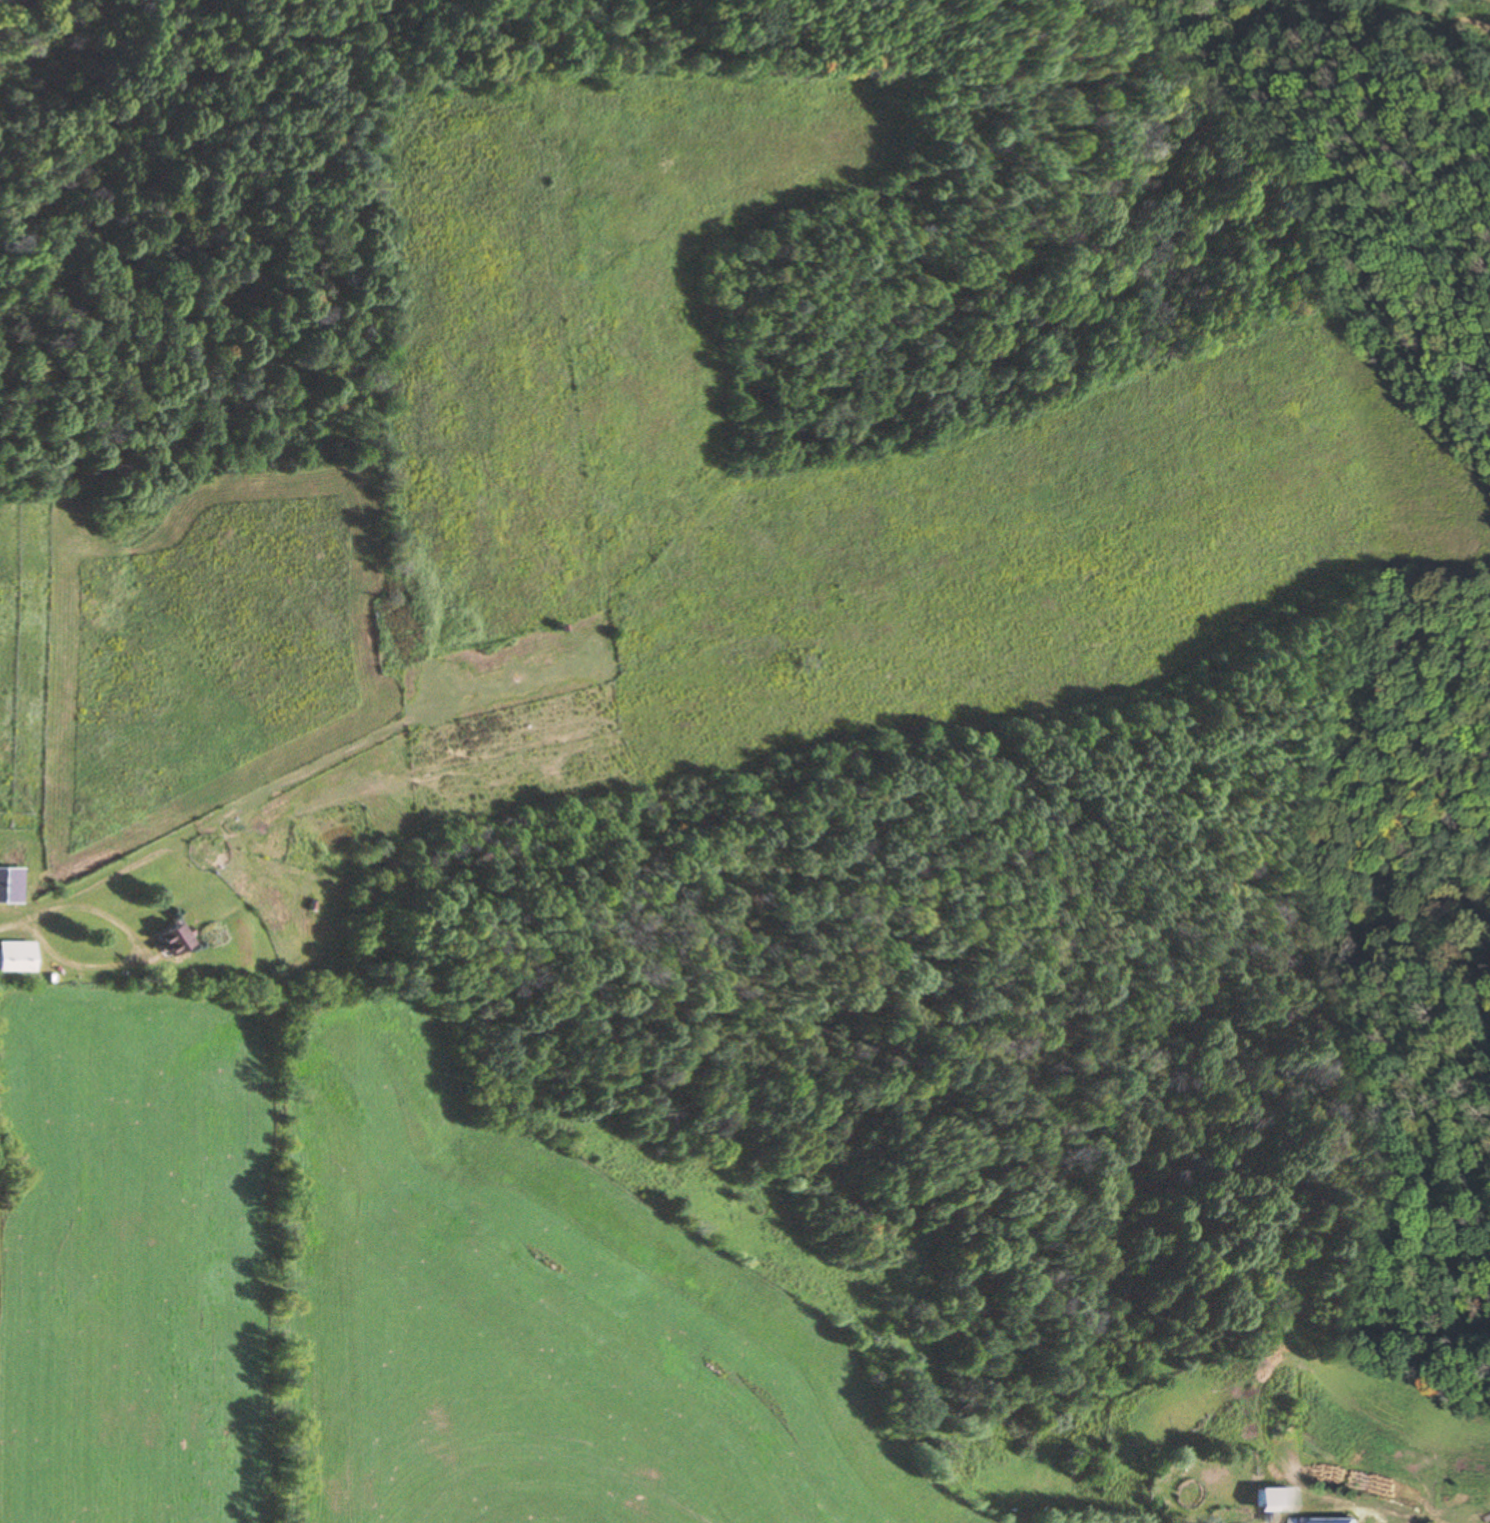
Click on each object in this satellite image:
building: (9, 885)
road: (13, 922)
building: (167, 941)
building: (14, 957)
building: (1270, 1500)
building: (1326, 1520)

